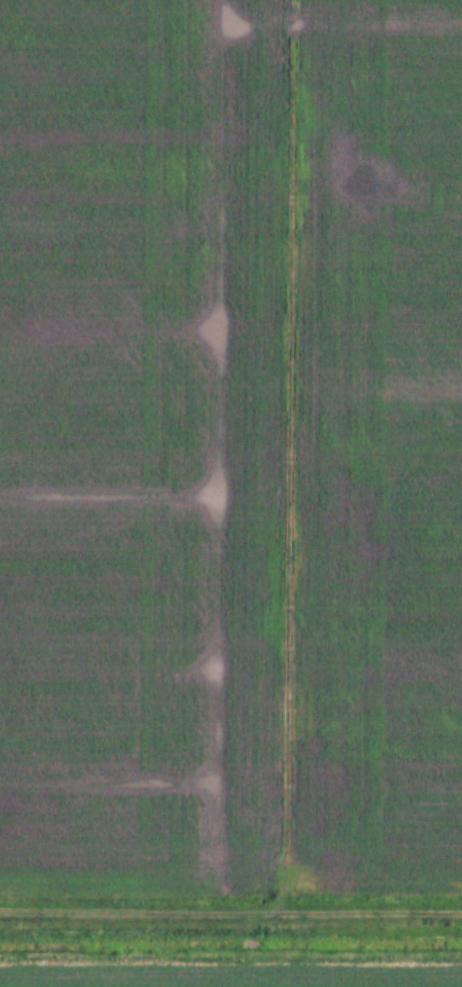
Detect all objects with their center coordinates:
crop: (230, 435)
road: (359, 873)
road: (231, 914)

